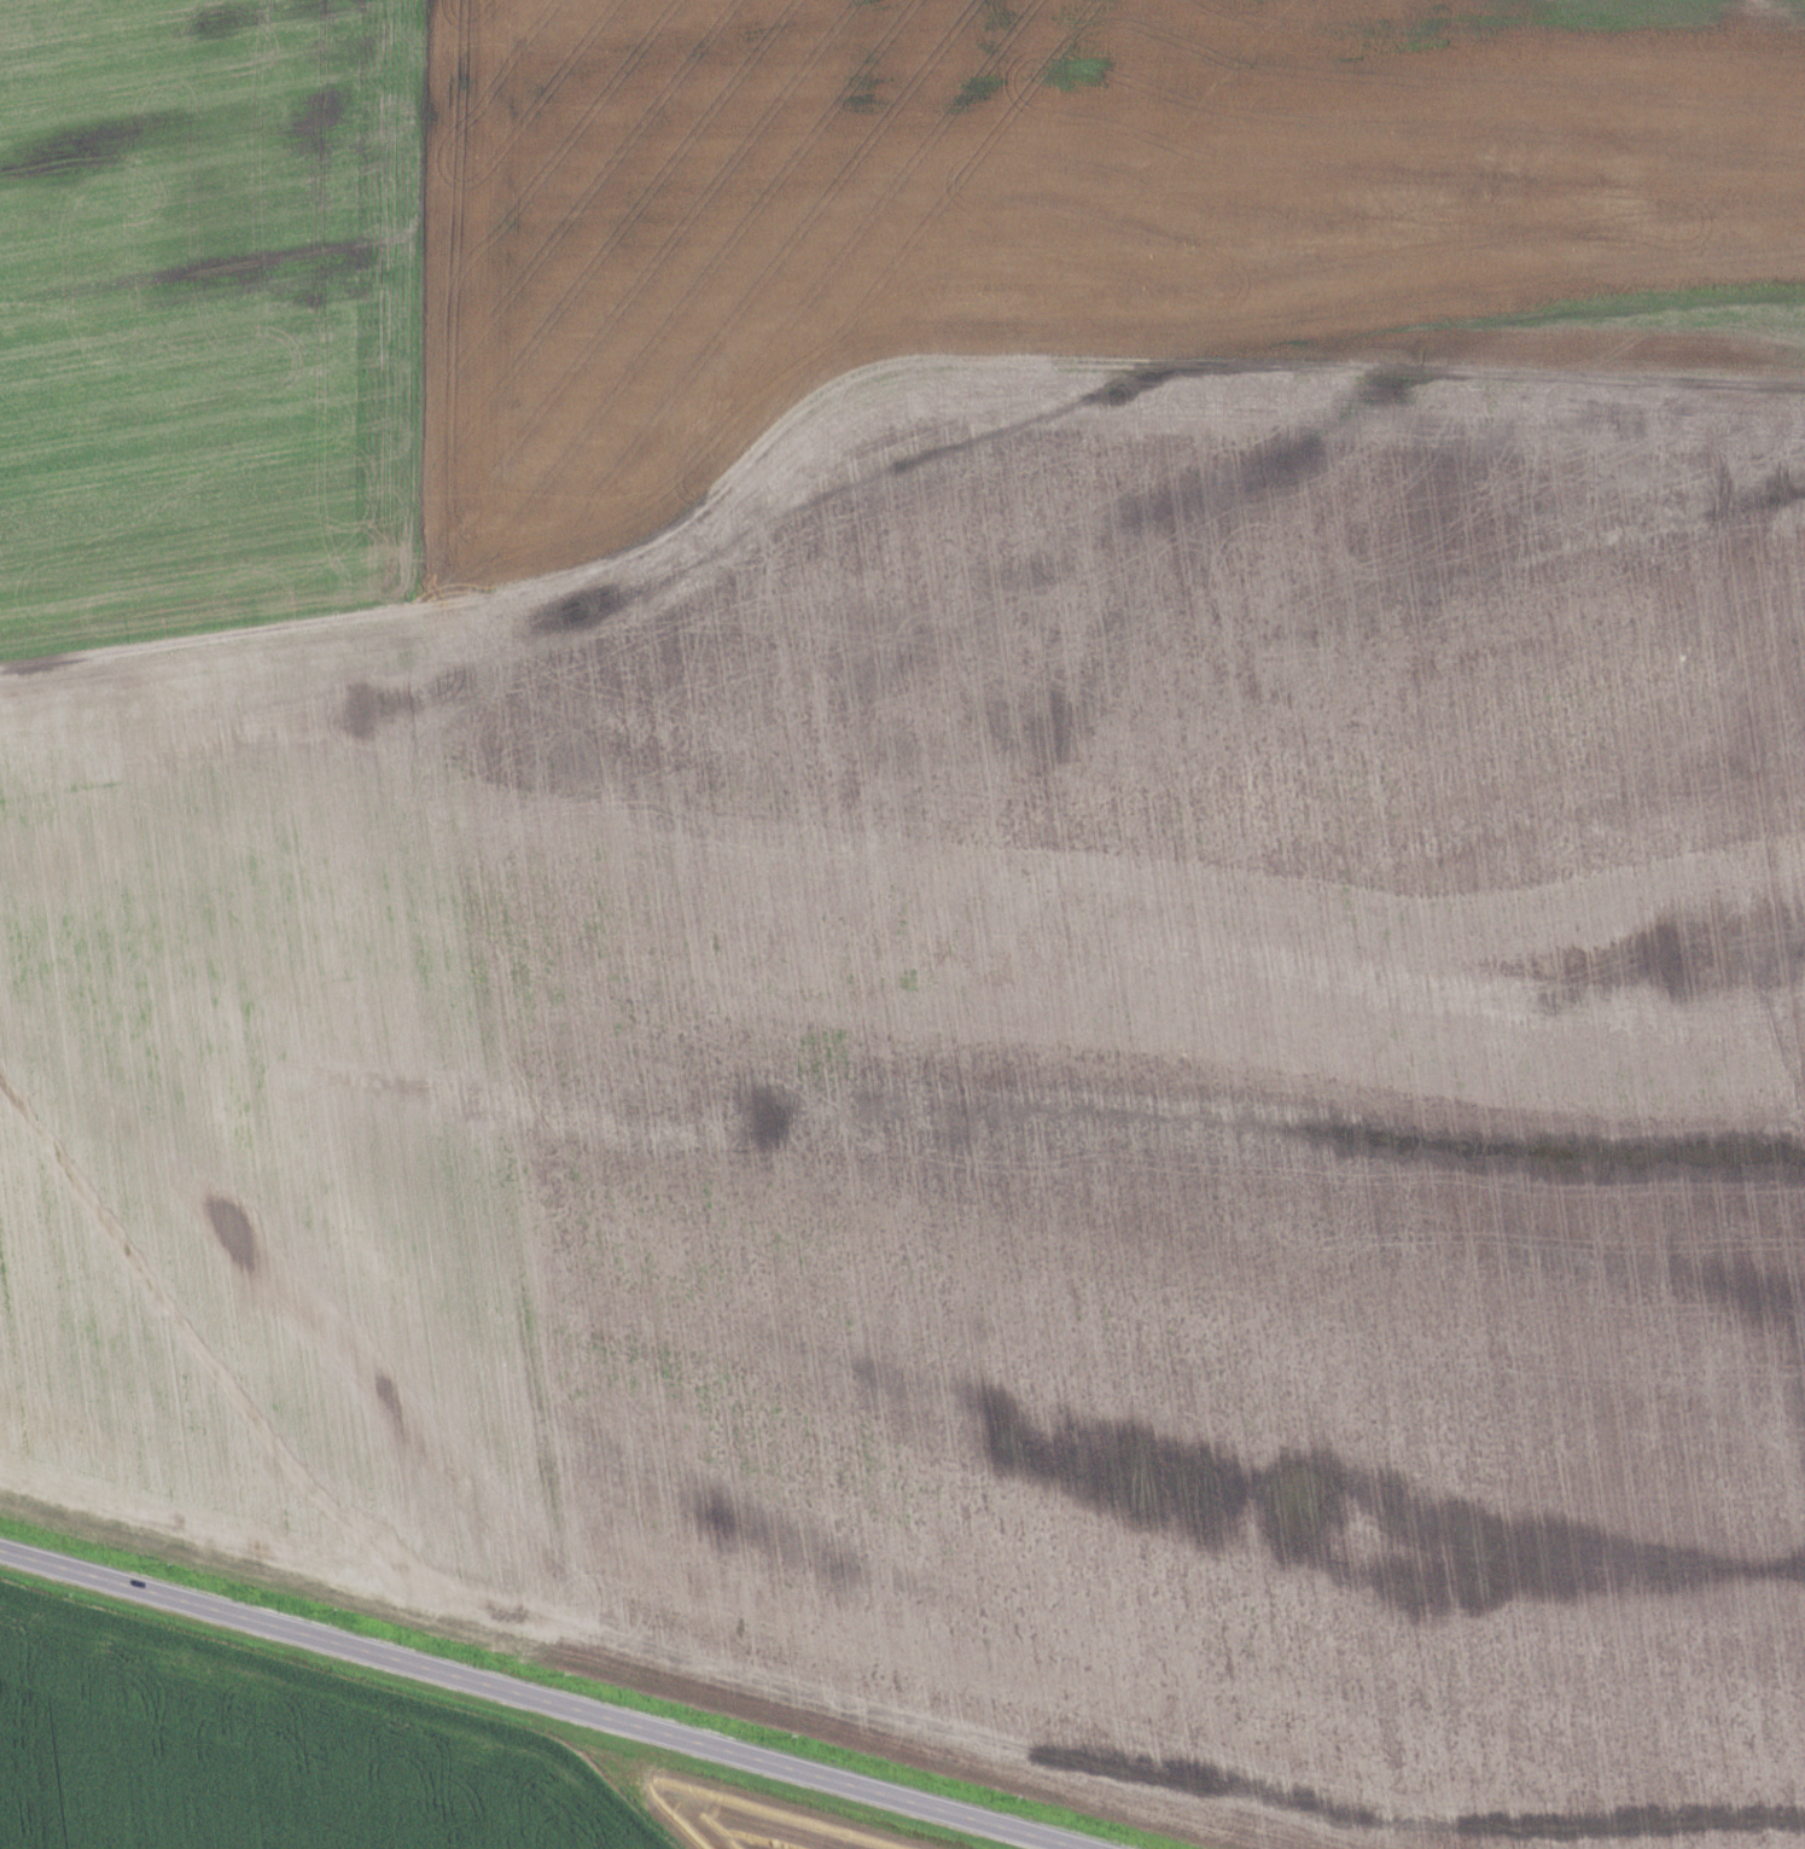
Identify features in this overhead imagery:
road: (543, 1698)

